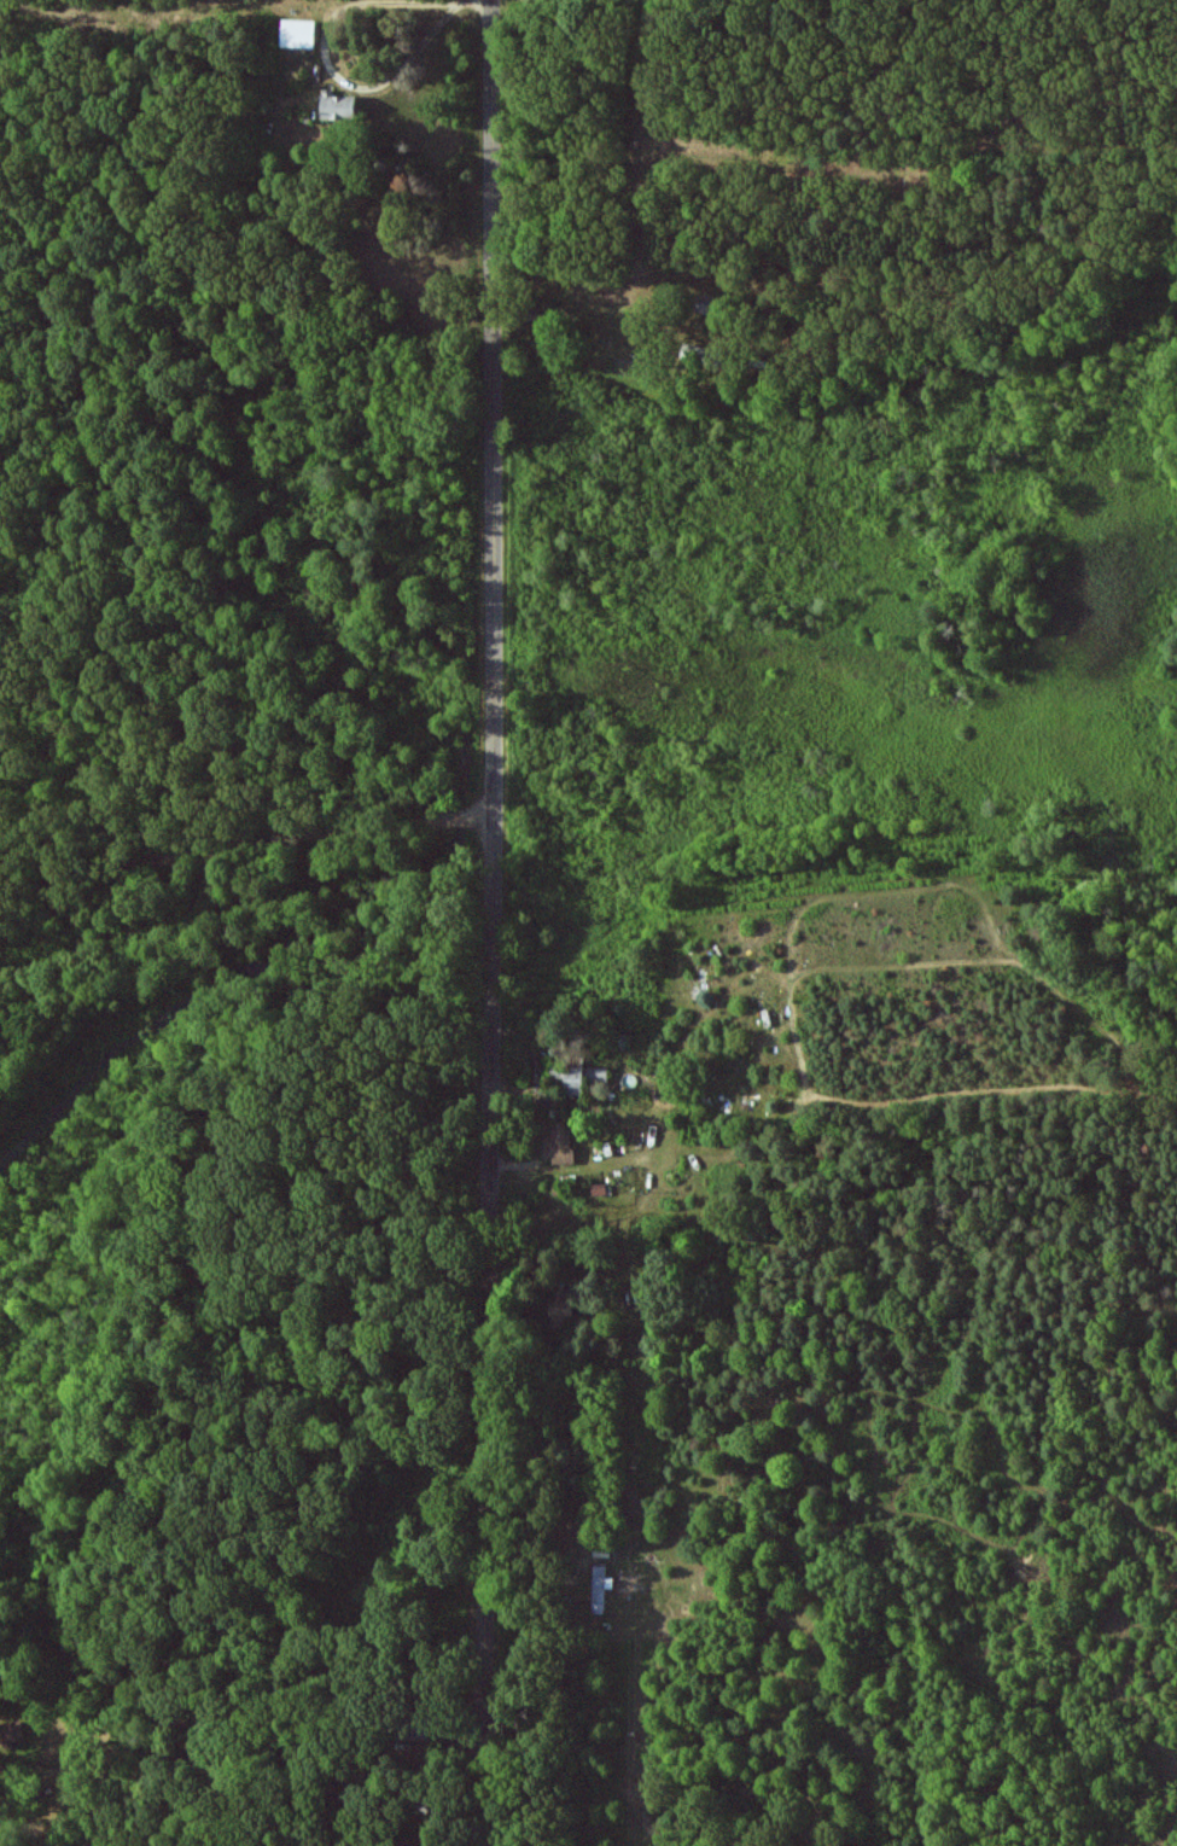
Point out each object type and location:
building: (299, 33)
building: (339, 105)
road: (247, 848)
road: (496, 922)
building: (585, 1077)
building: (561, 1143)
building: (561, 1305)
building: (11, 1733)

